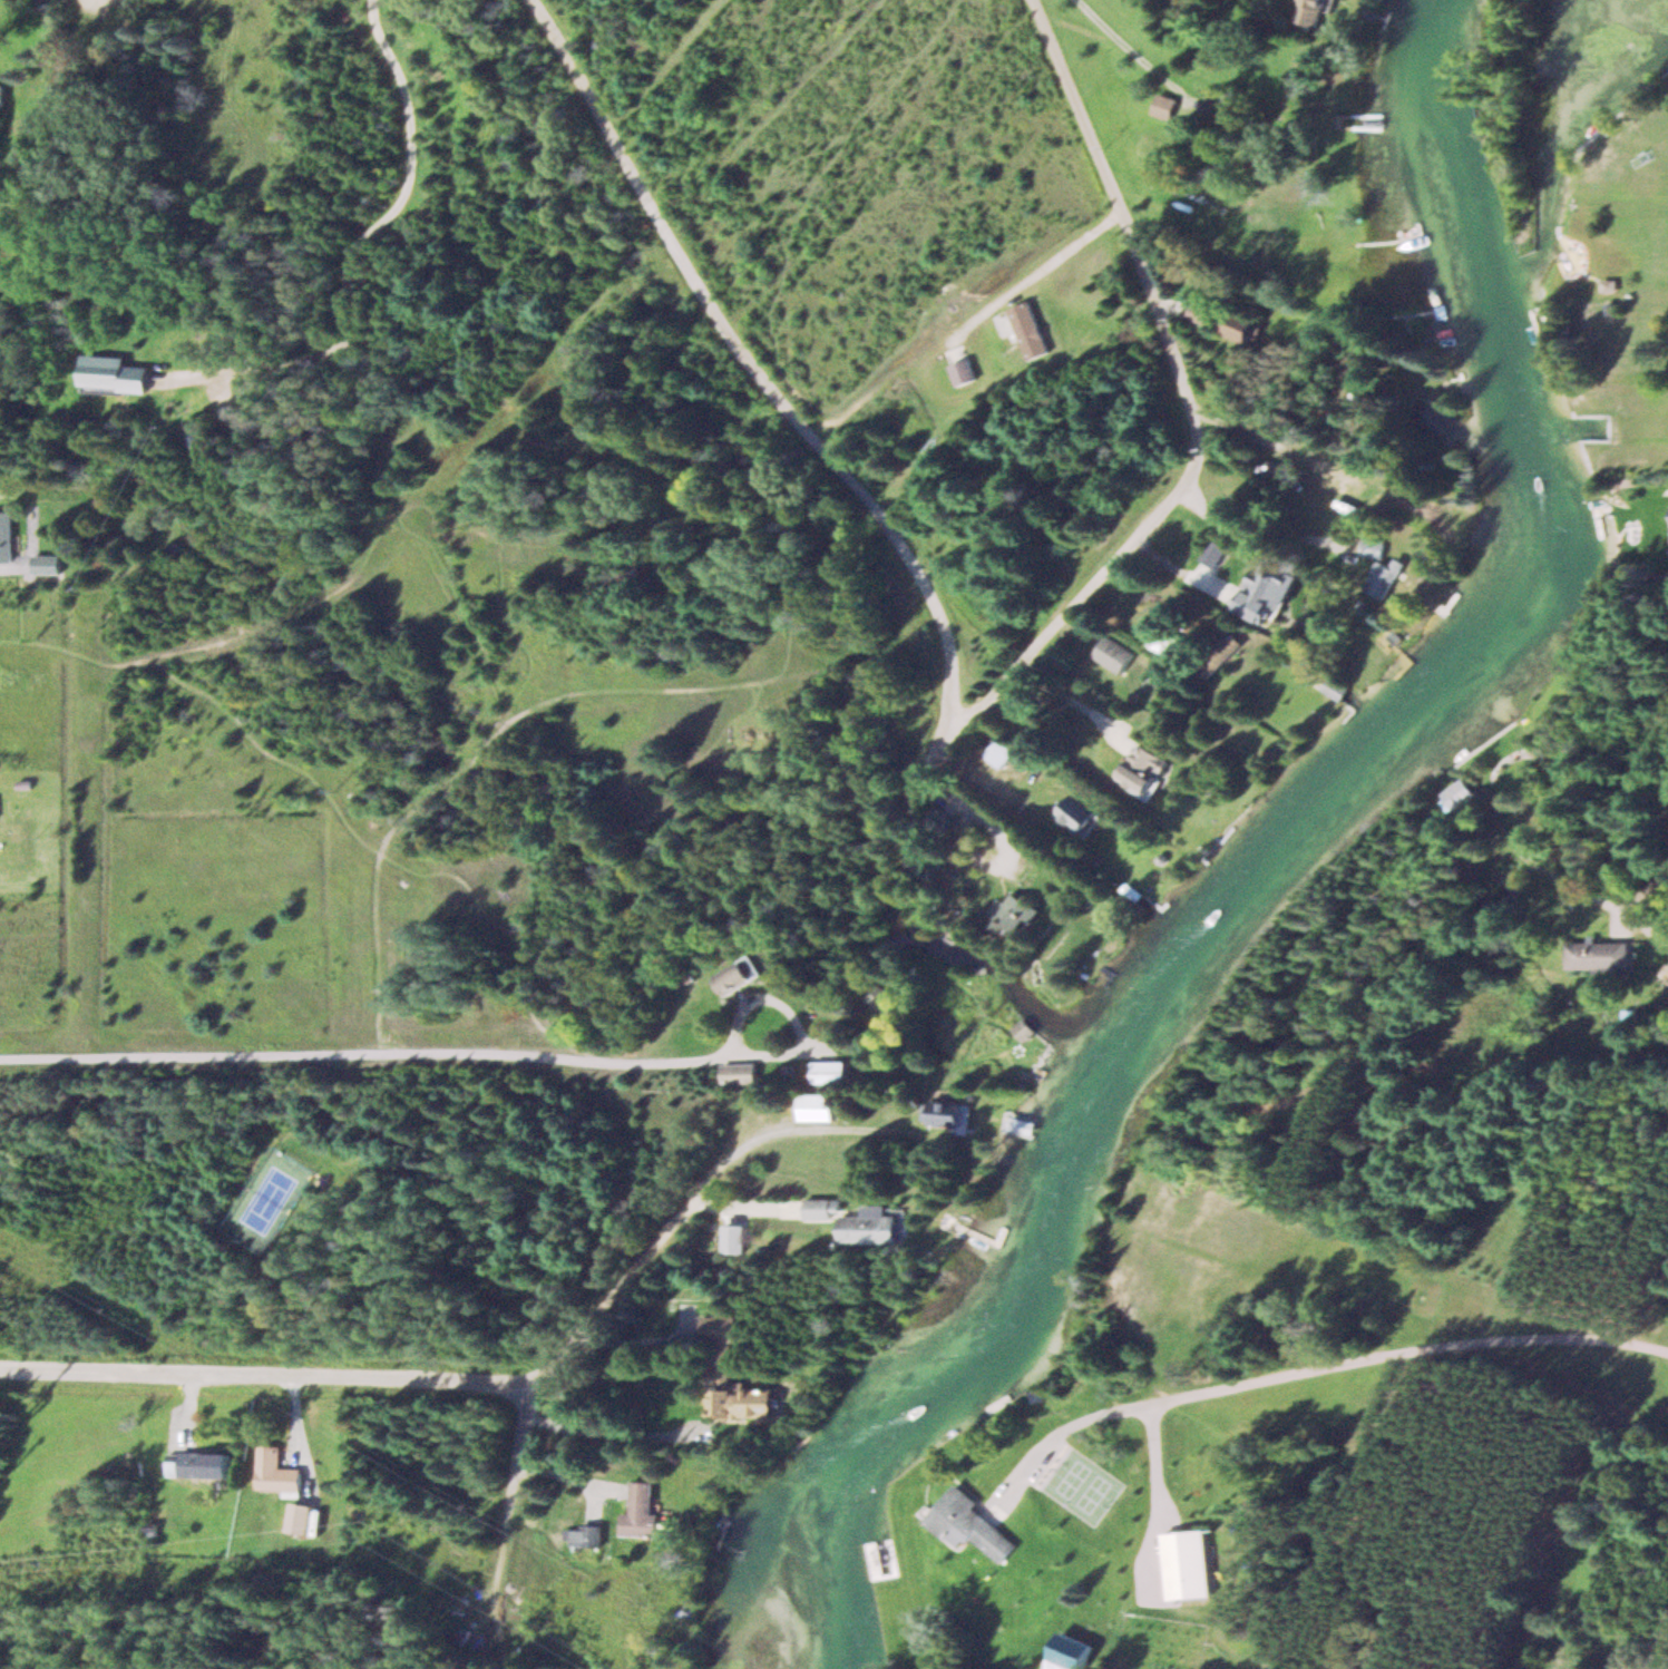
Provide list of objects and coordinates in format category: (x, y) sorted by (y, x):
building: (1317, 12)
road: (1139, 55)
building: (1, 92)
building: (1167, 105)
road: (352, 245)
road: (1144, 262)
road: (1027, 276)
building: (1202, 310)
building: (1240, 324)
building: (1031, 328)
building: (964, 370)
building: (116, 373)
road: (770, 381)
road: (1162, 506)
road: (1274, 528)
building: (8, 535)
building: (51, 562)
building: (1379, 567)
building: (1261, 578)
road: (255, 607)
road: (1043, 635)
building: (1116, 654)
building: (1219, 654)
road: (537, 703)
building: (1002, 751)
building: (1143, 771)
building: (1459, 793)
road: (954, 796)
building: (1077, 813)
building: (943, 821)
river: (1286, 858)
road: (1645, 861)
building: (1014, 915)
building: (1599, 955)
building: (740, 974)
road: (790, 1011)
building: (1021, 1028)
road: (821, 1037)
road: (367, 1051)
building: (830, 1070)
building: (740, 1072)
building: (817, 1105)
building: (948, 1112)
building: (820, 1207)
road: (679, 1223)
building: (872, 1224)
road: (1309, 1365)
building: (729, 1376)
road: (270, 1383)
building: (199, 1463)
building: (276, 1470)
road: (515, 1492)
building: (637, 1509)
building: (299, 1516)
building: (973, 1524)
building: (584, 1538)
building: (1190, 1565)
building: (1071, 1652)

